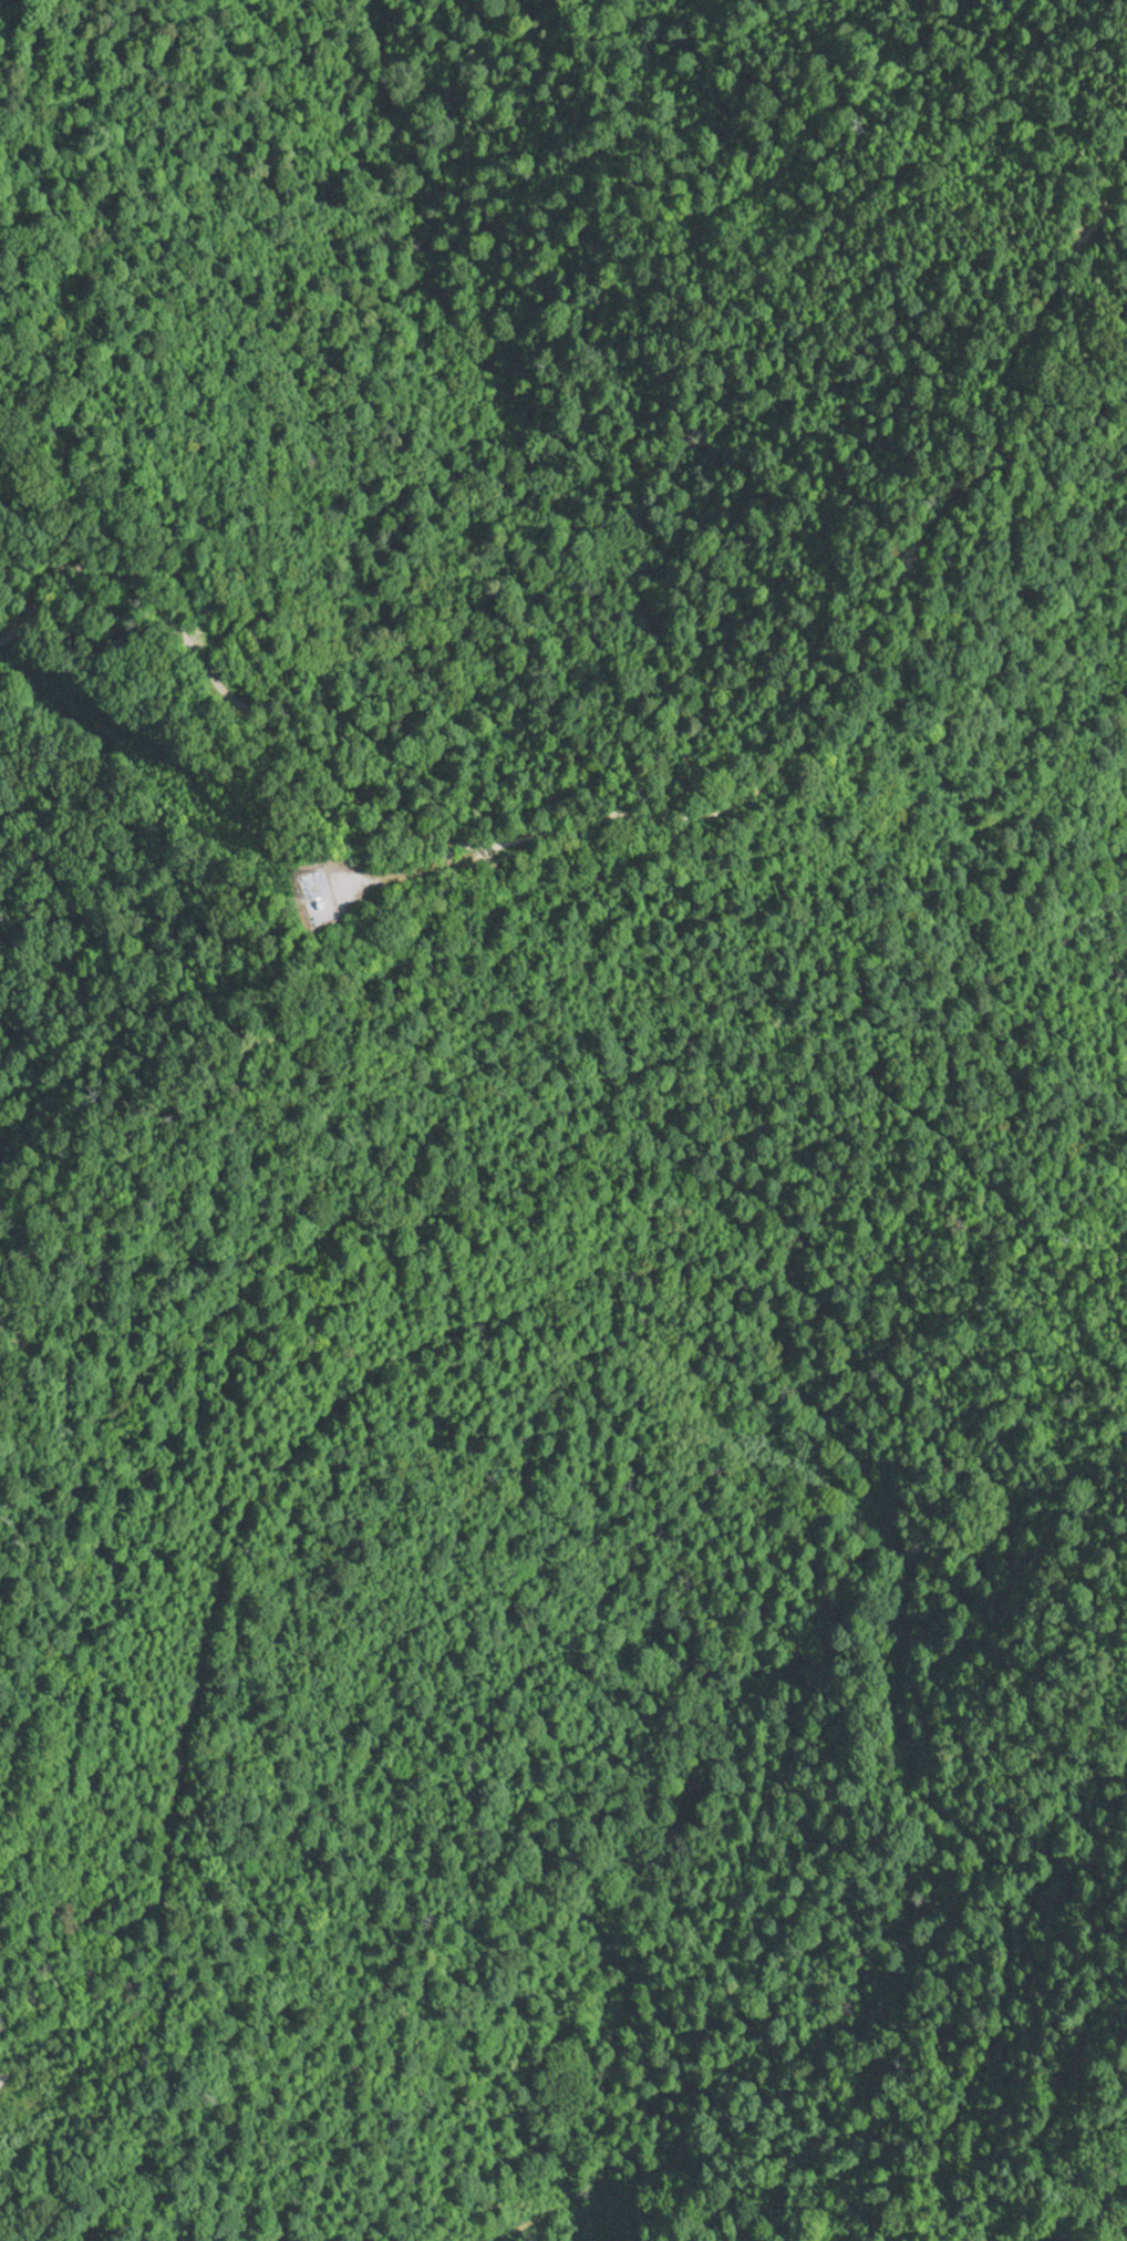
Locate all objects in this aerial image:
road: (1009, 879)

